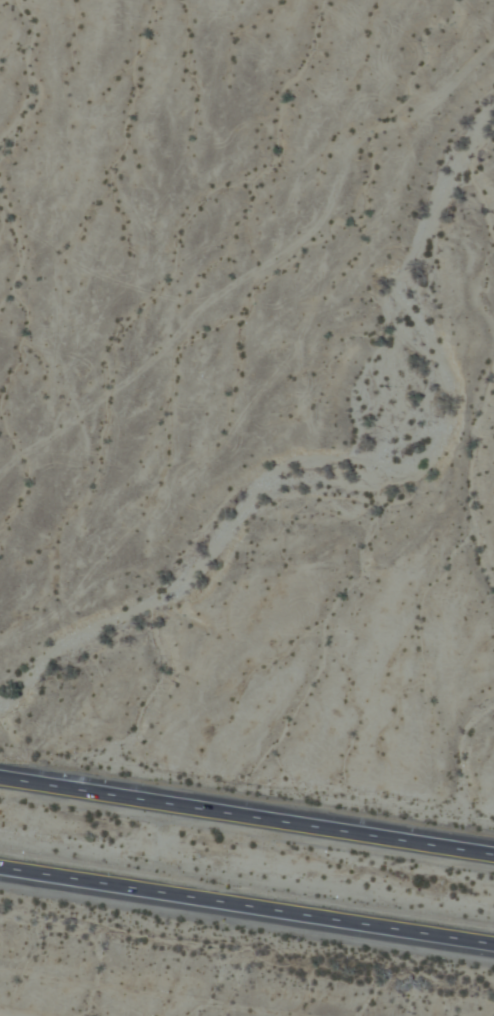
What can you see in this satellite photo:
road: (247, 810)
road: (247, 908)

